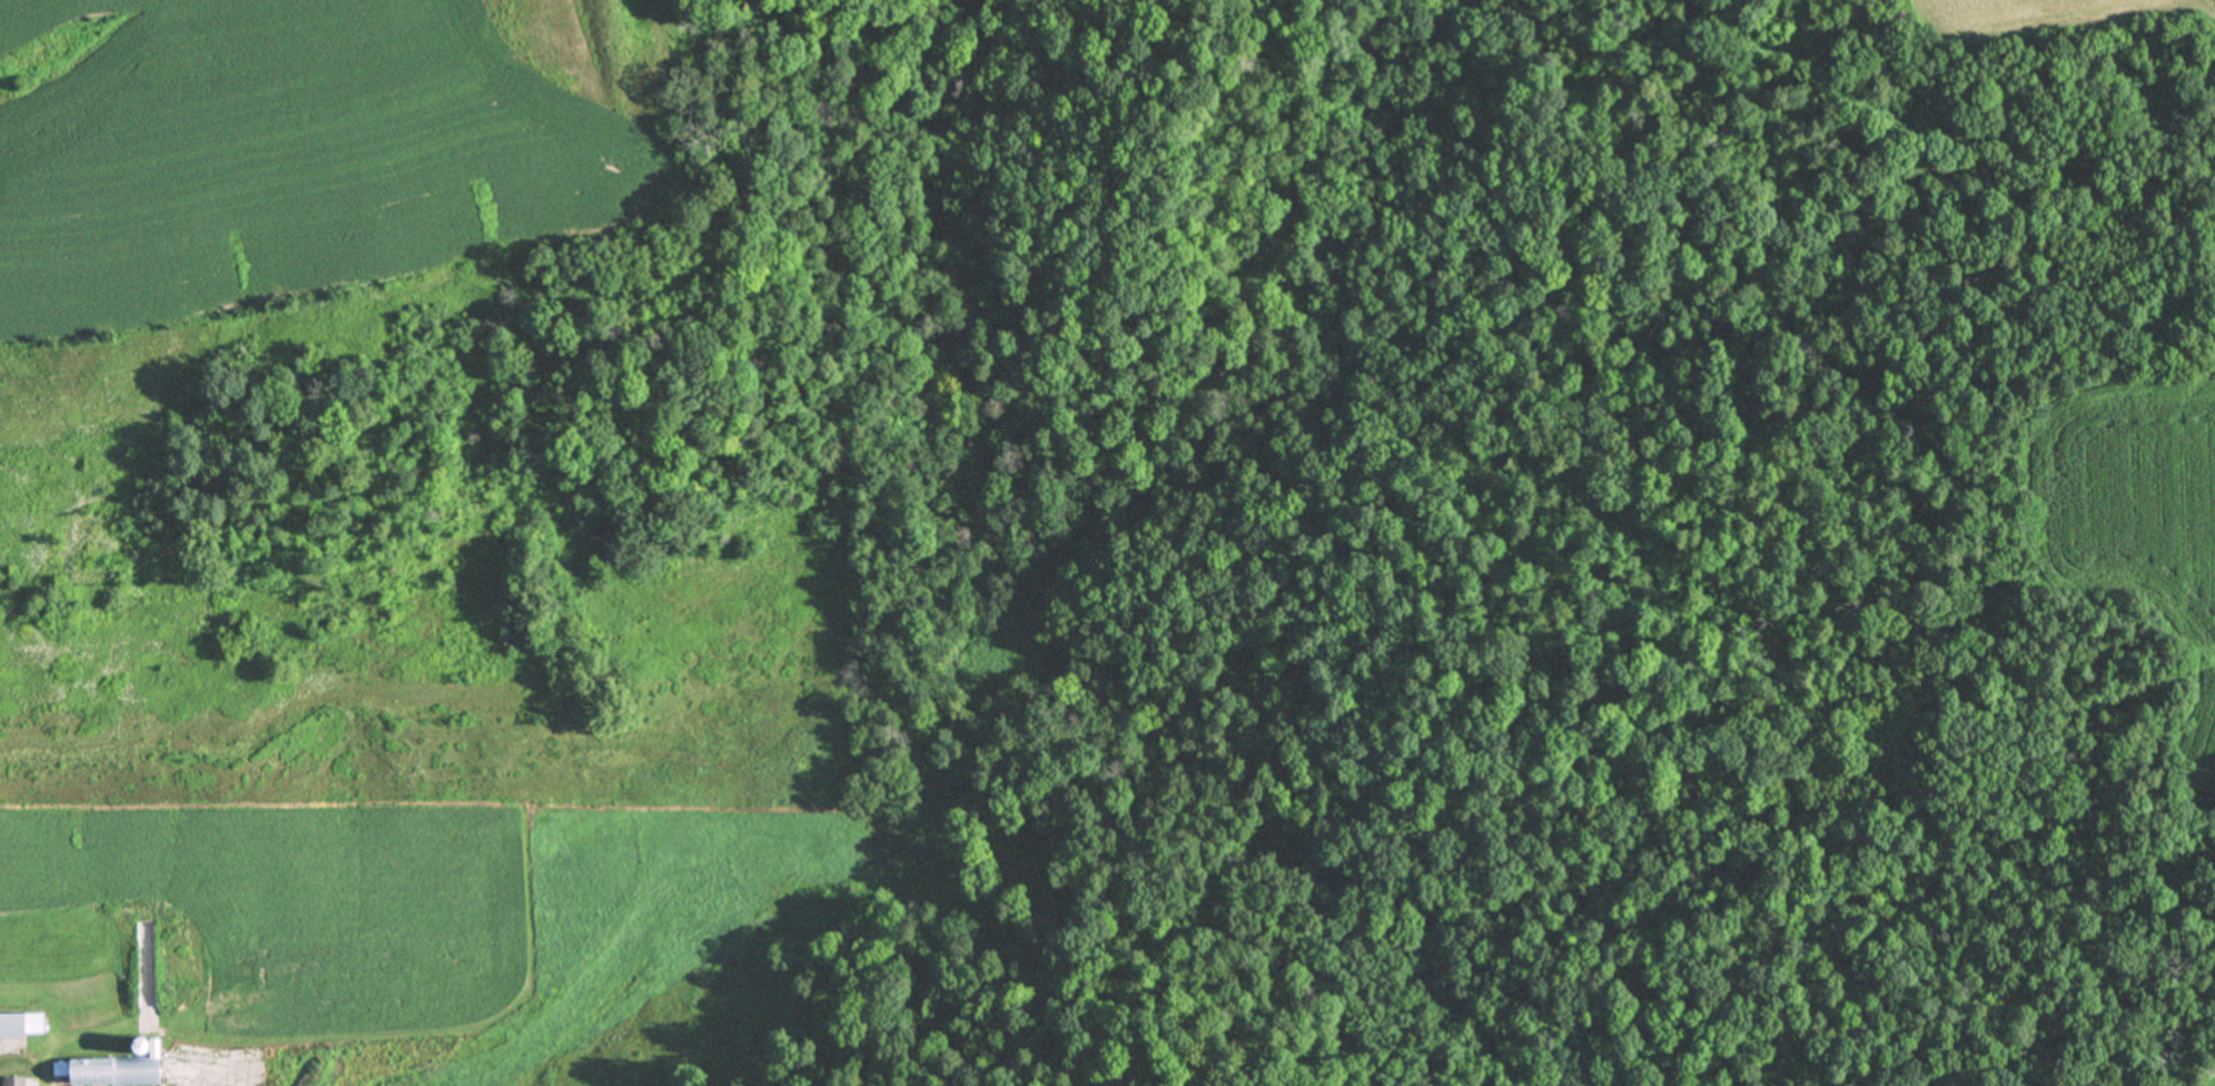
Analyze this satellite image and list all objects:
building: (24, 1025)
building: (122, 1072)
building: (14, 1080)

